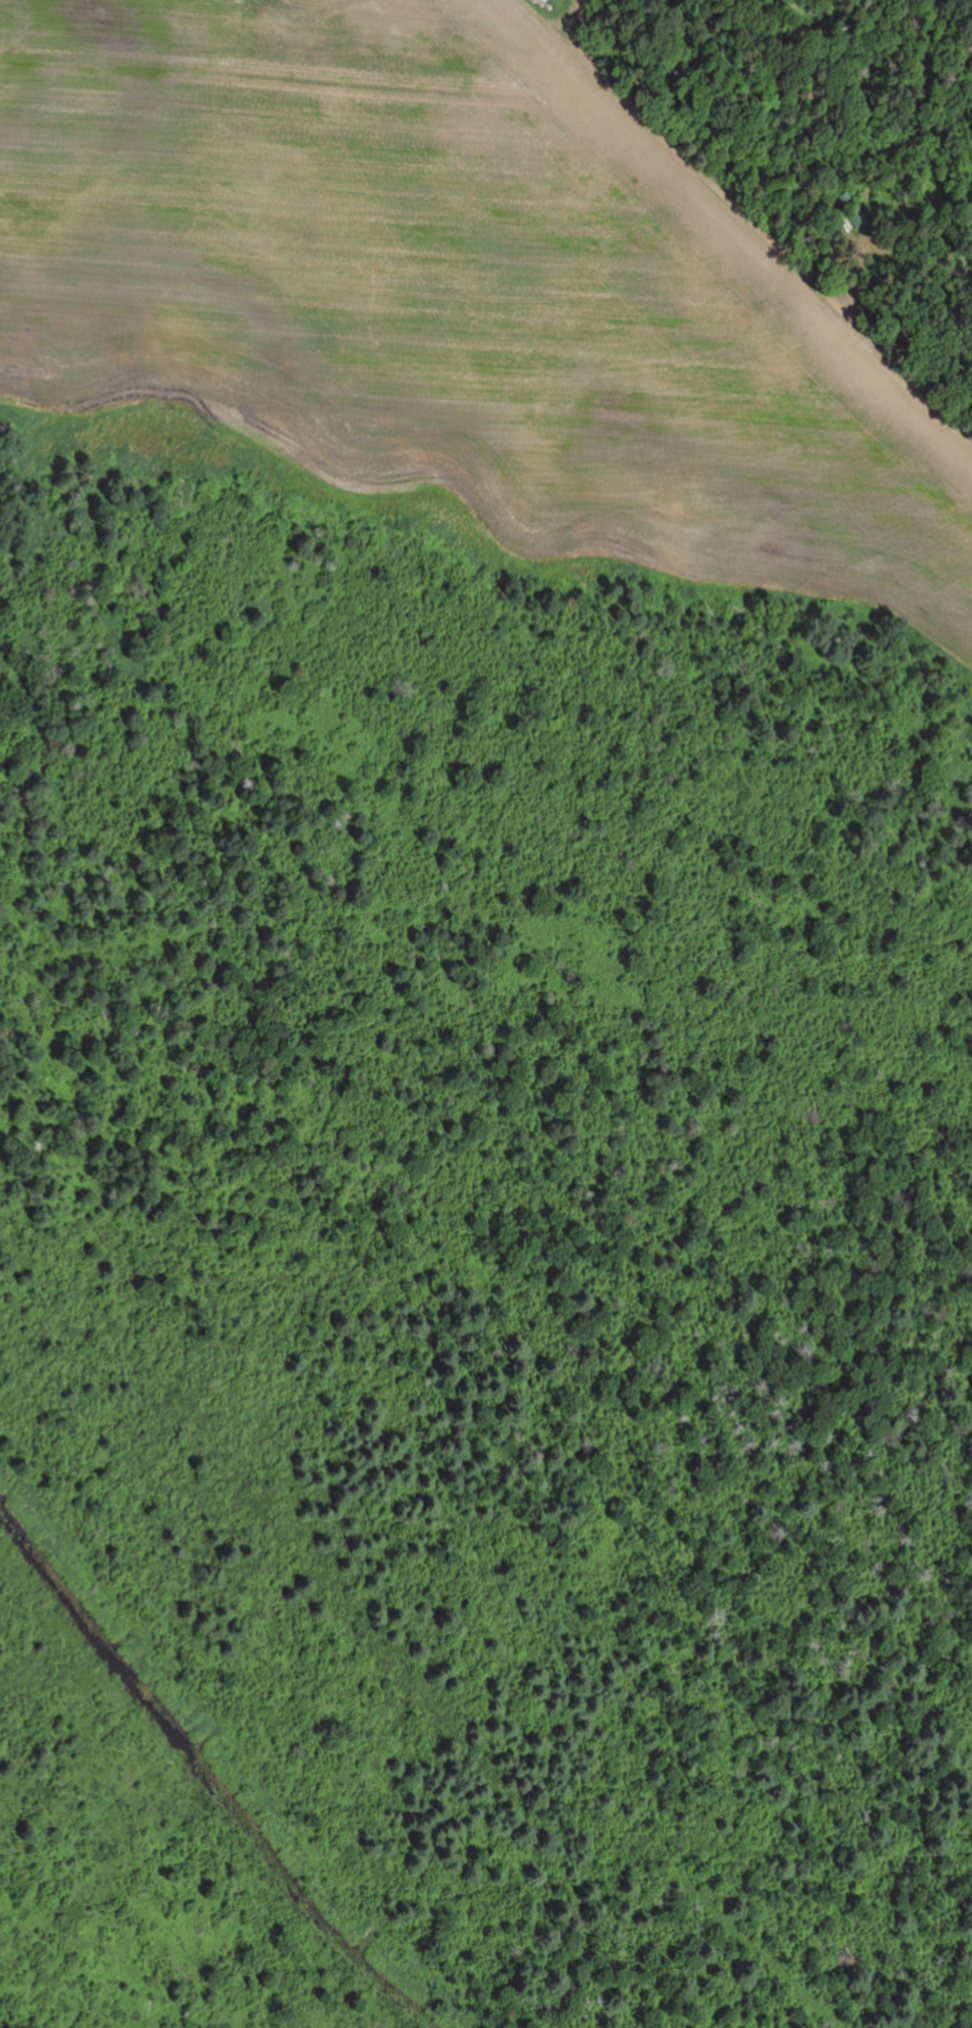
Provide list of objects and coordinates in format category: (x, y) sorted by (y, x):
building: (546, 0)
building: (857, 213)

